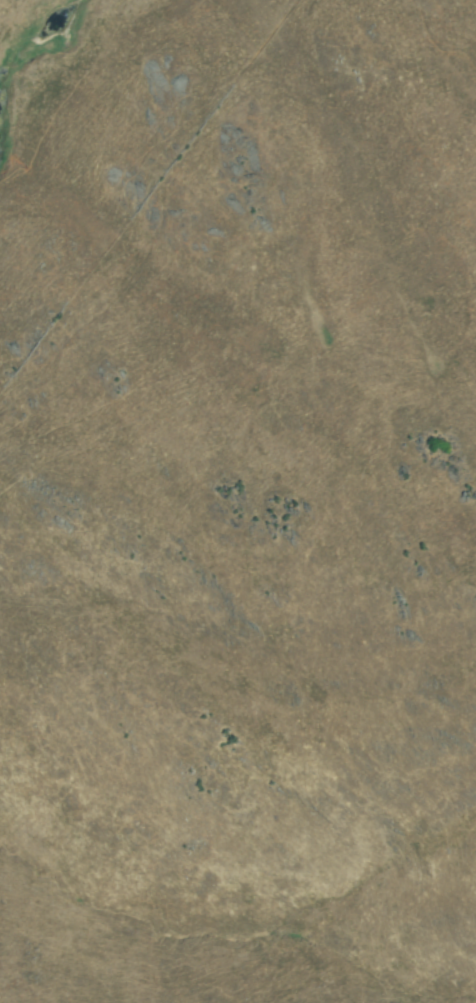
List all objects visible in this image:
road: (149, 195)

